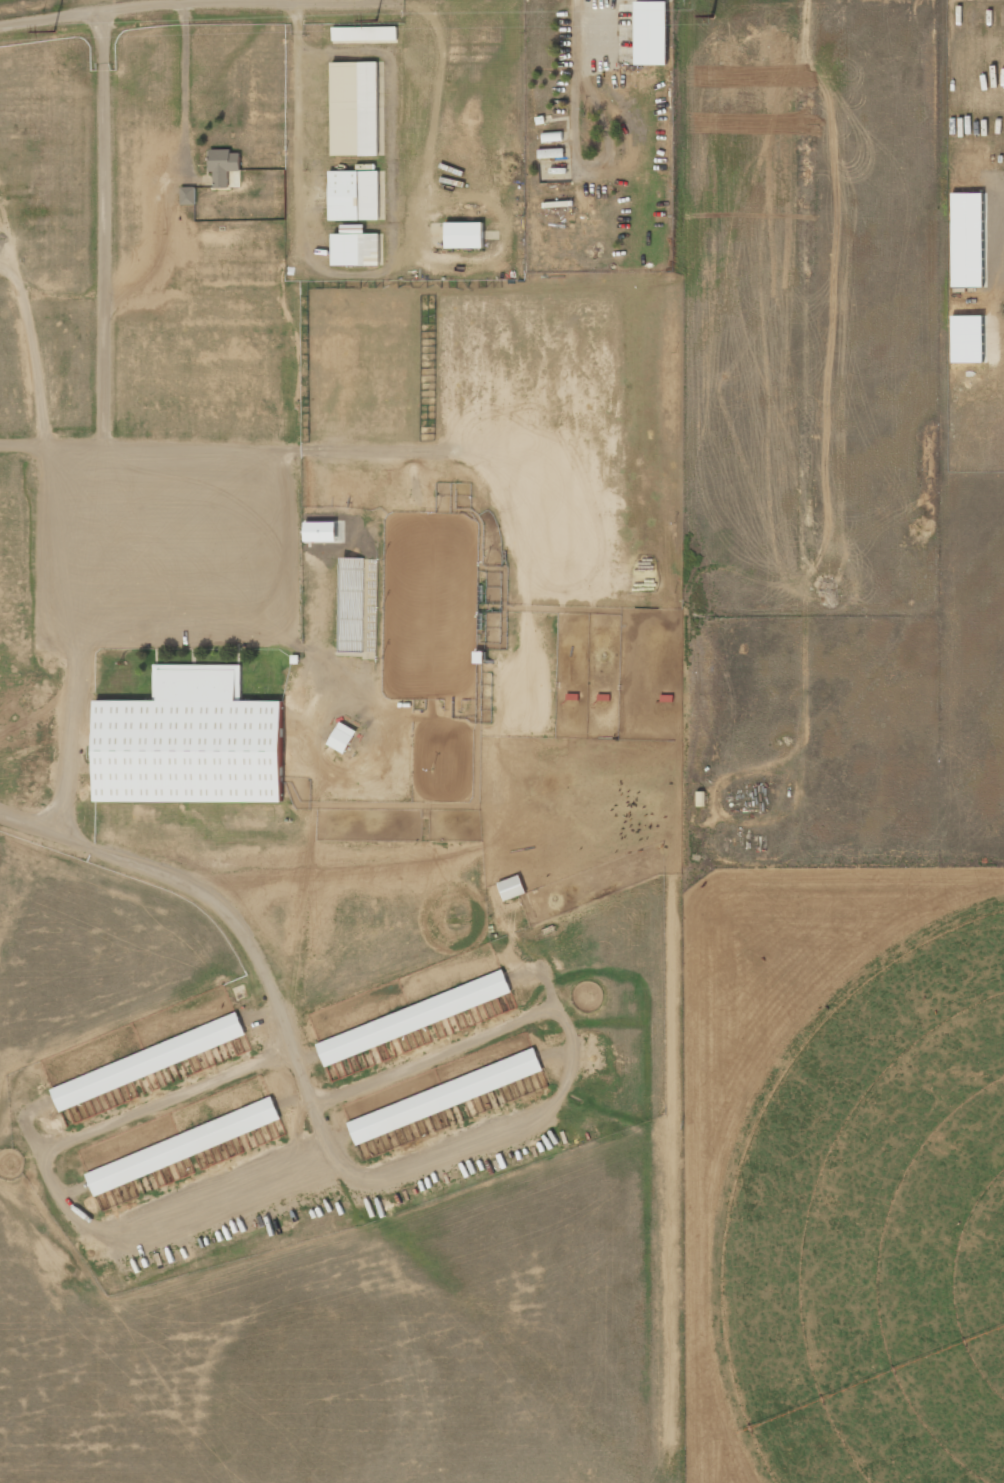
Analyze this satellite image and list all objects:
power tower: (714, 14)
power tower: (378, 19)
power tower: (53, 32)
building: (365, 35)
building: (355, 109)
building: (226, 168)
building: (189, 196)
building: (354, 196)
building: (464, 235)
building: (353, 604)
building: (343, 738)
building: (190, 742)
building: (512, 888)
road: (232, 919)
building: (414, 1018)
building: (149, 1062)
building: (445, 1097)
building: (184, 1147)
crop: (874, 1225)

